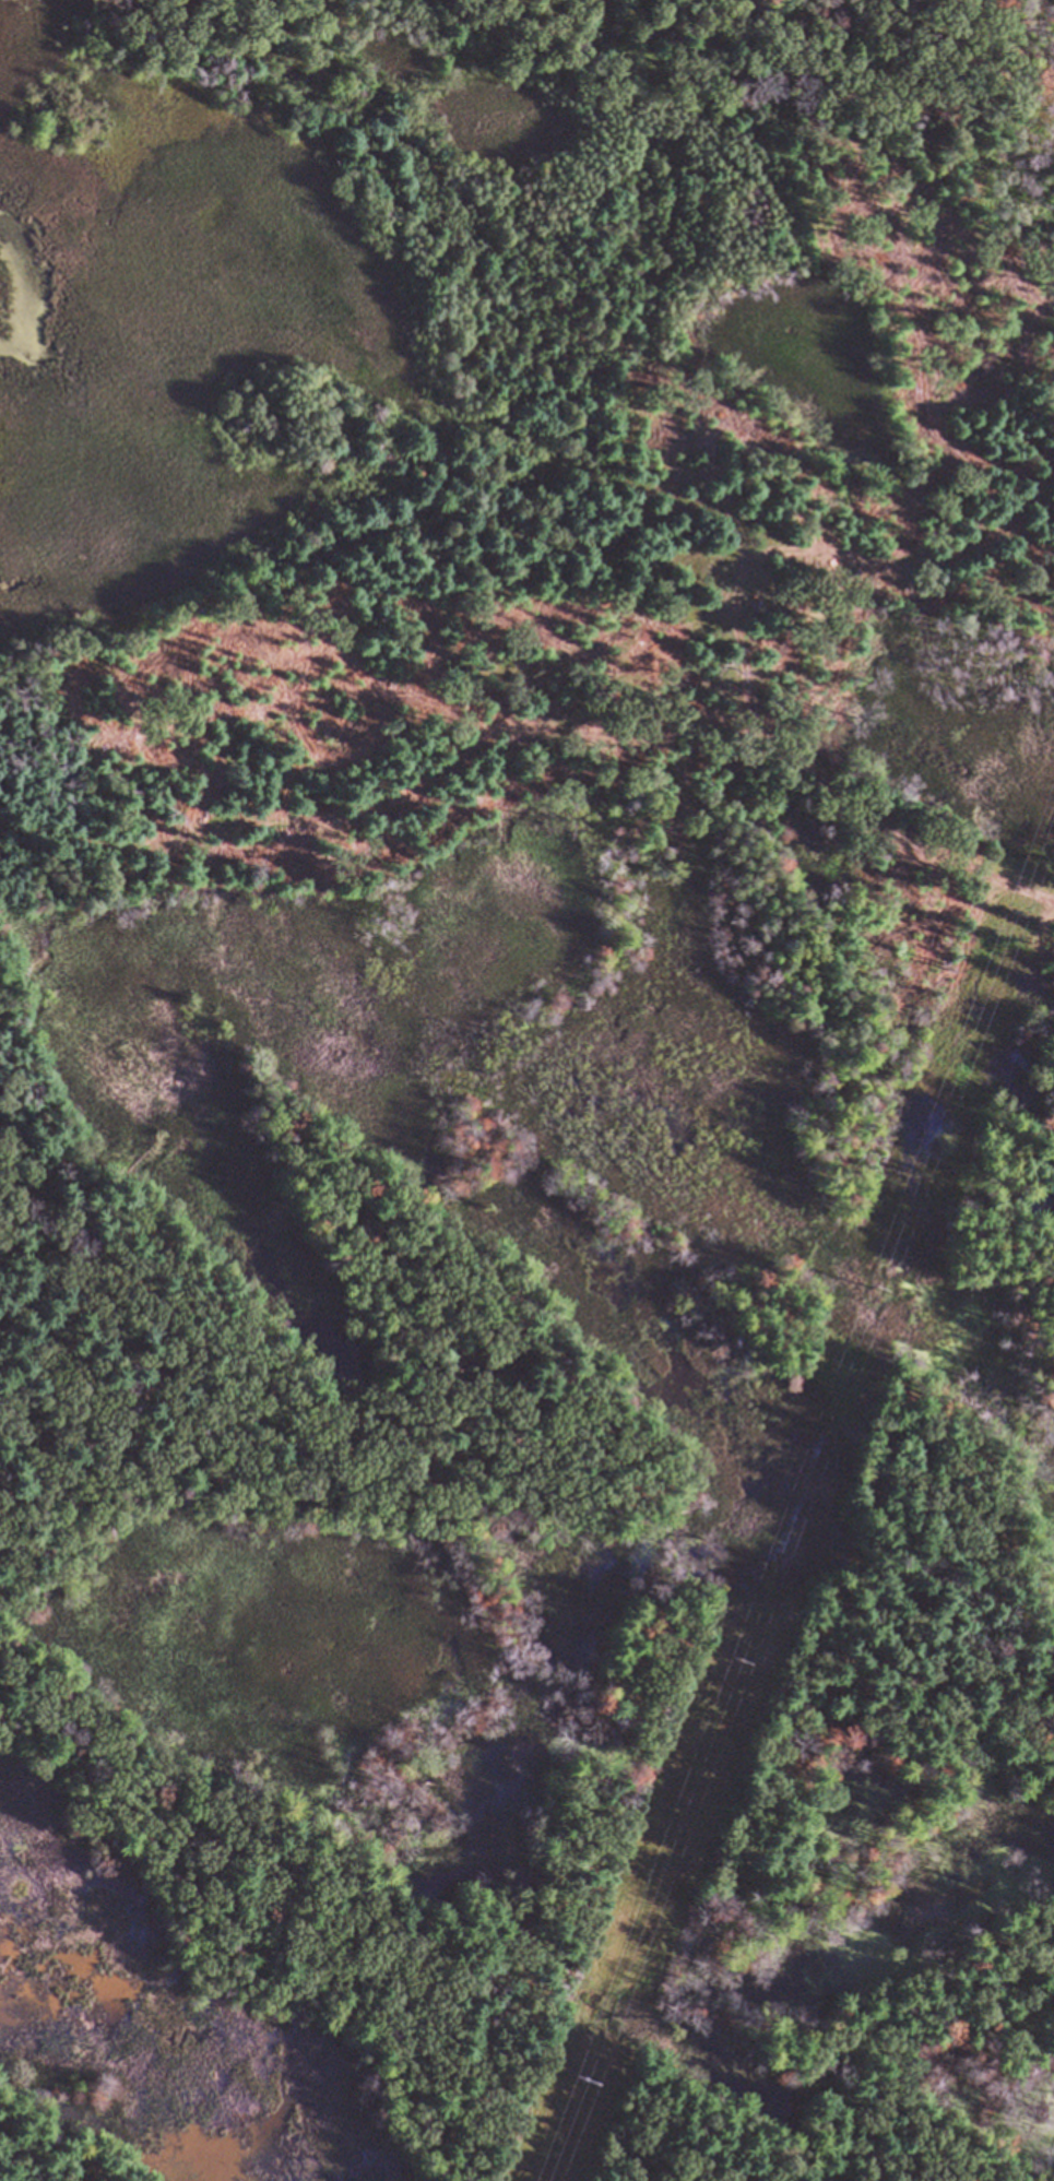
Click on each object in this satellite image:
power tower: (999, 896)
power tower: (865, 1277)
power tower: (725, 1643)
power tower: (564, 2066)

